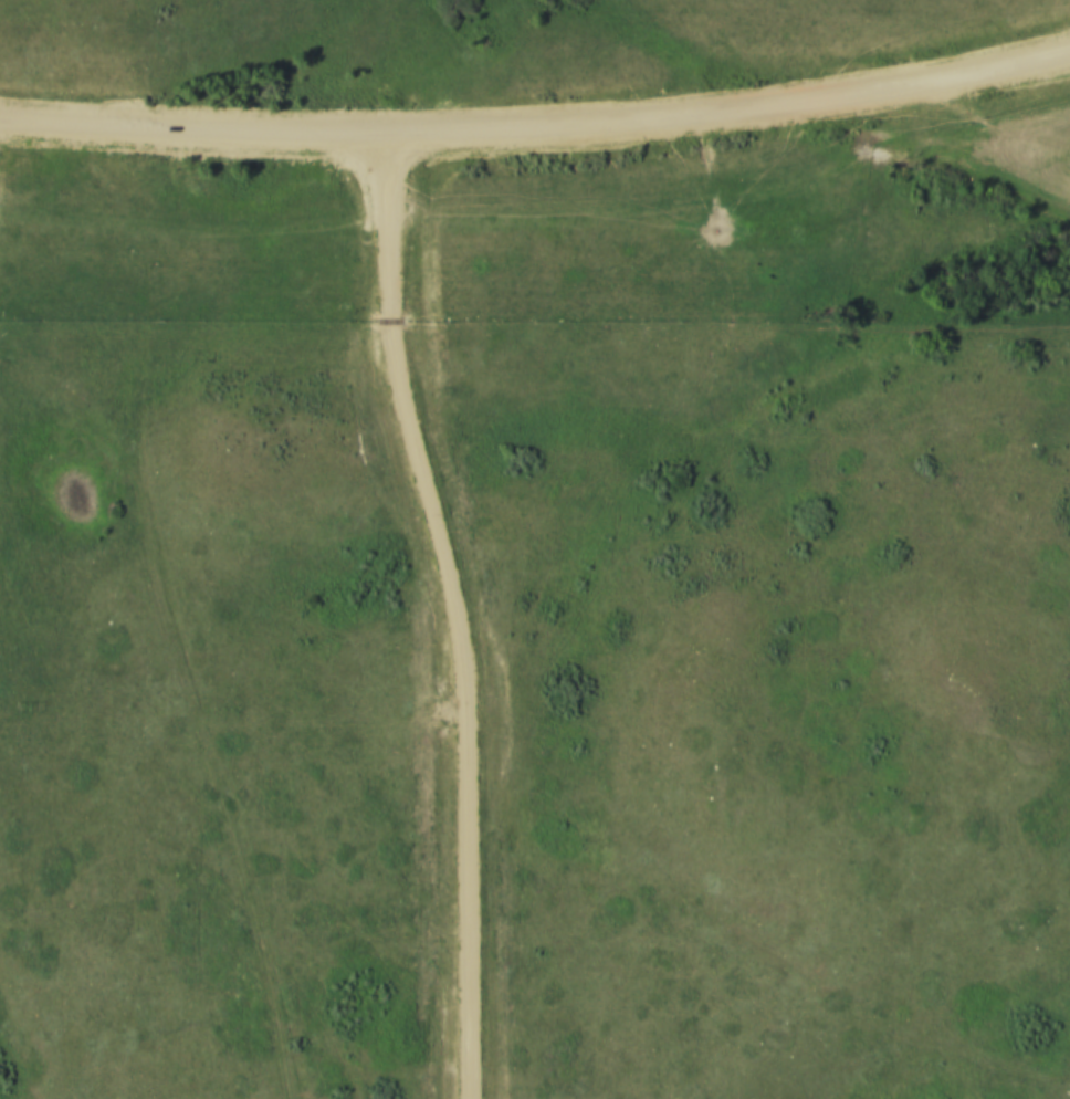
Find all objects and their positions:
road: (537, 130)
road: (449, 614)

